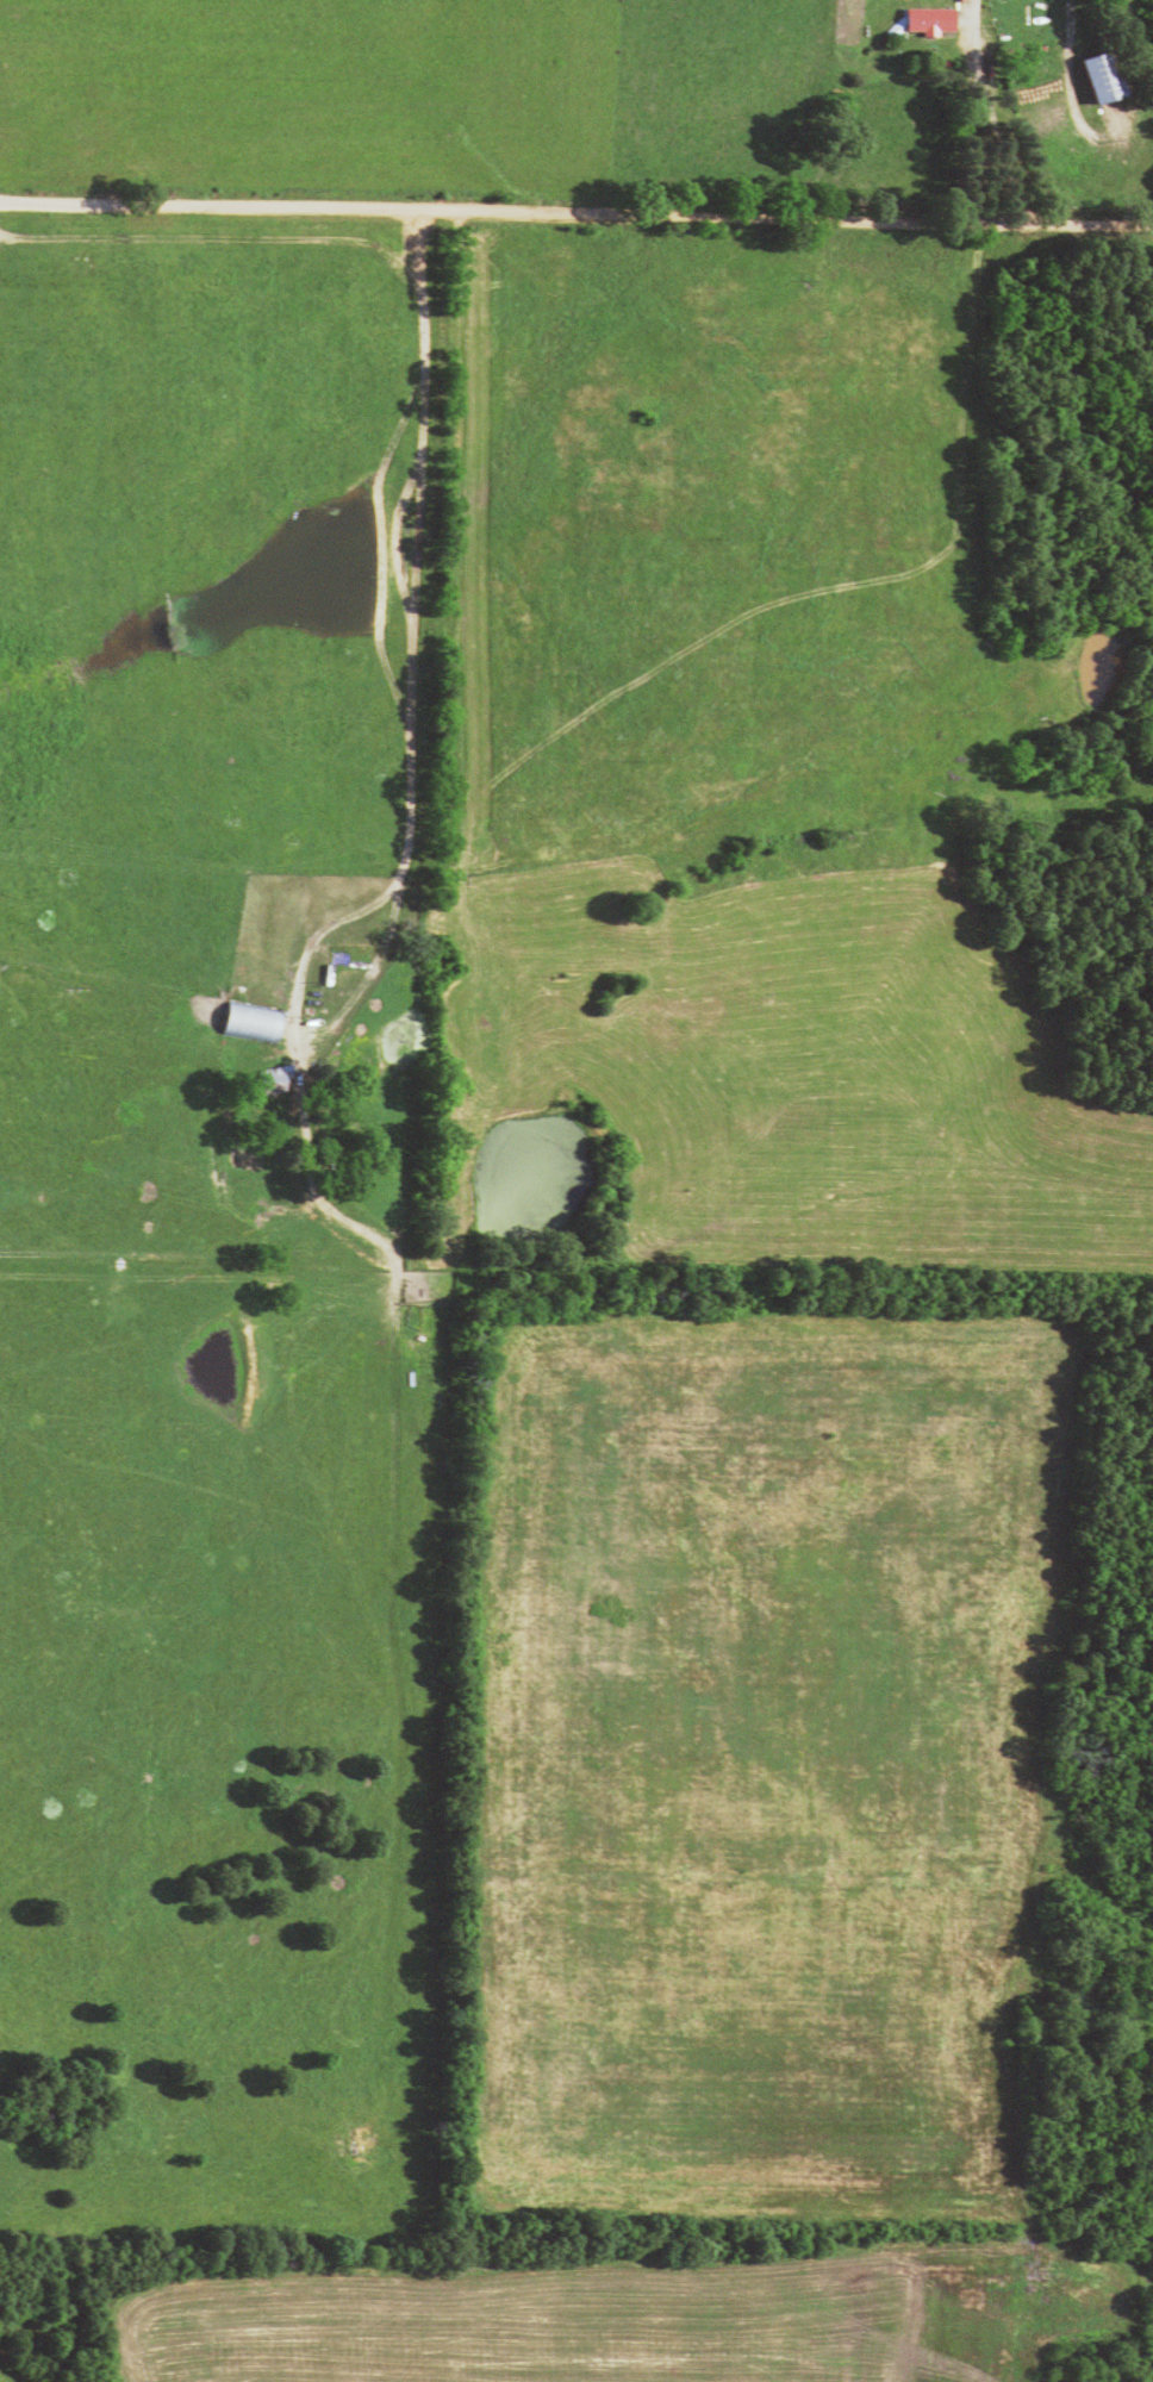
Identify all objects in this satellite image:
building: (922, 27)
building: (1095, 85)
road: (576, 212)
building: (337, 965)
building: (237, 1027)
building: (261, 1087)

